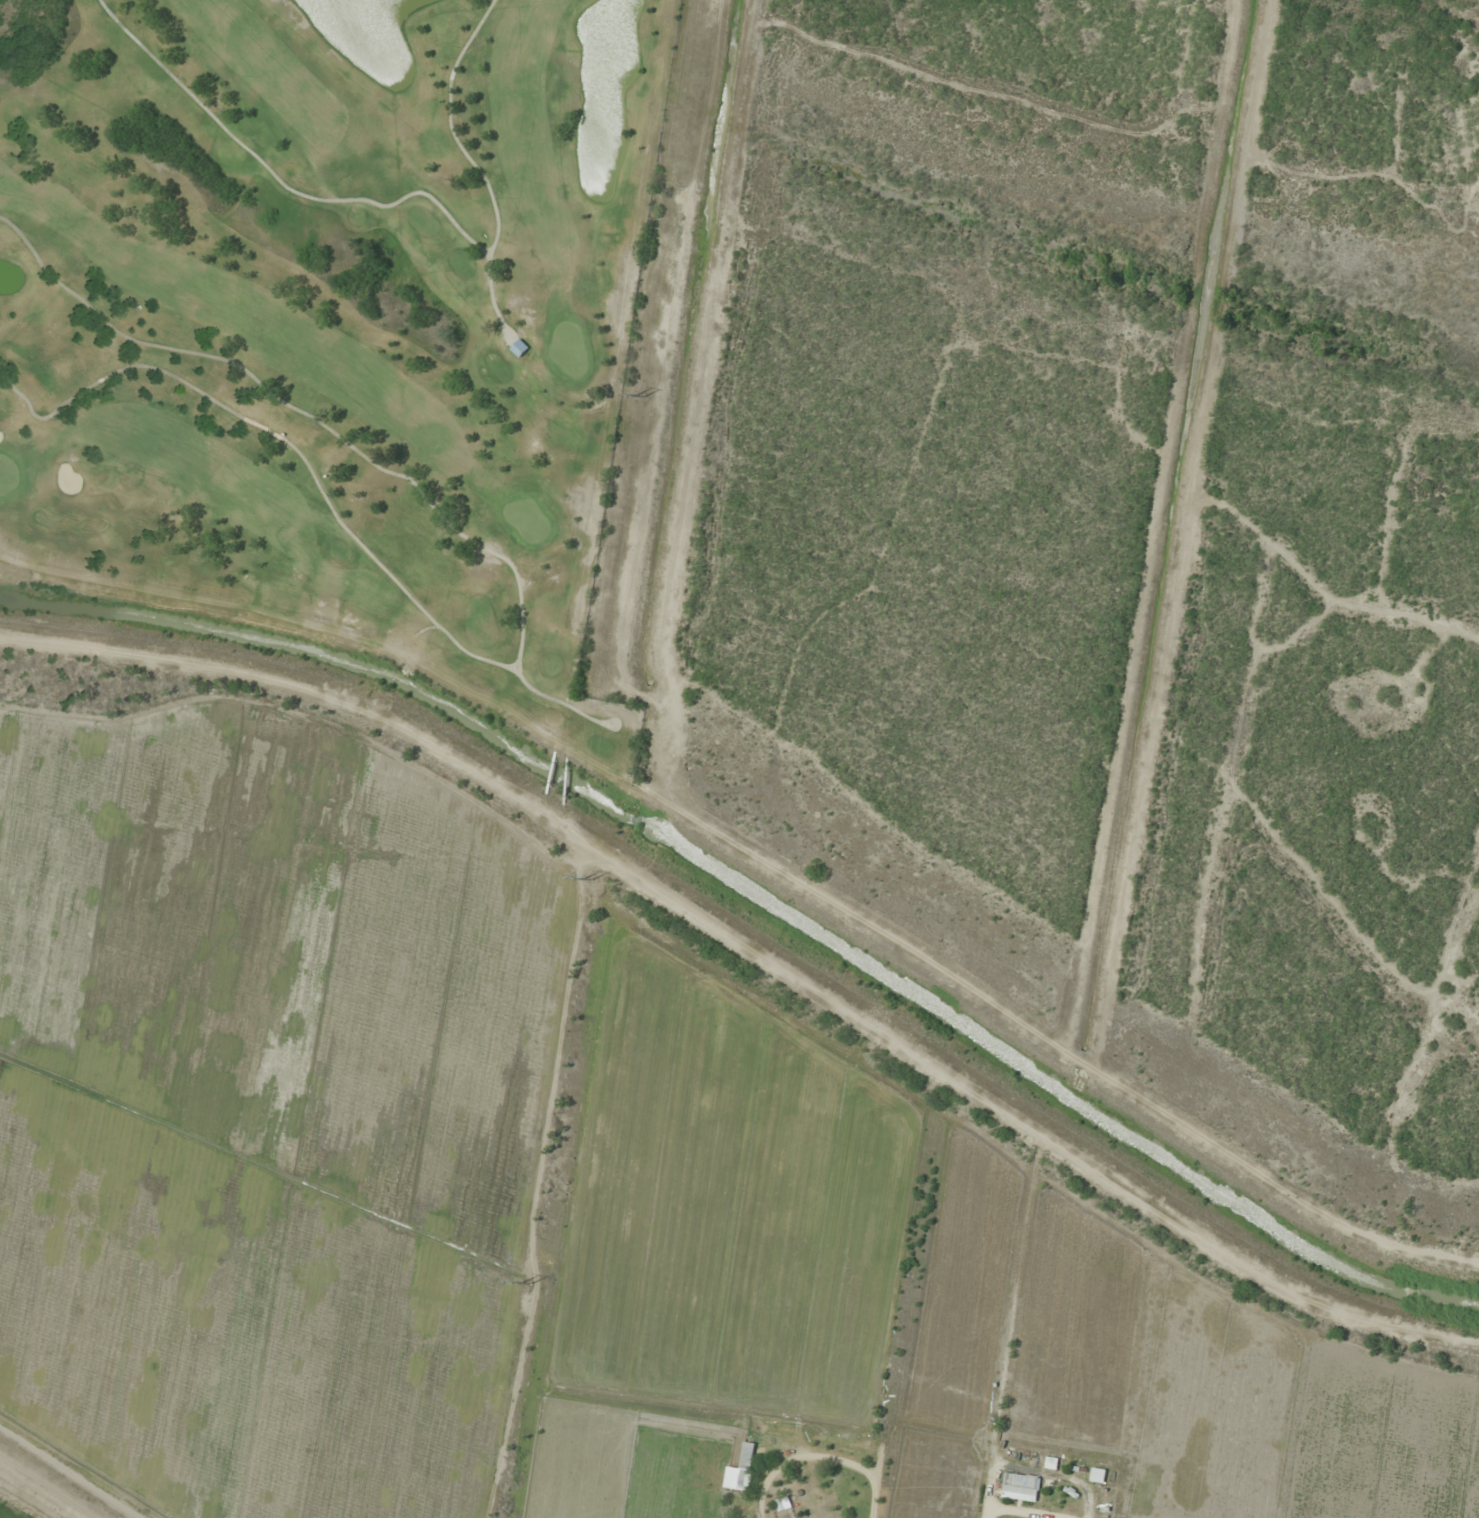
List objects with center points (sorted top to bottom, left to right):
park: (332, 316)
building: (519, 348)
power tower: (638, 396)
power tower: (588, 880)
power tower: (526, 1283)
building: (745, 1466)
building: (1021, 1487)

